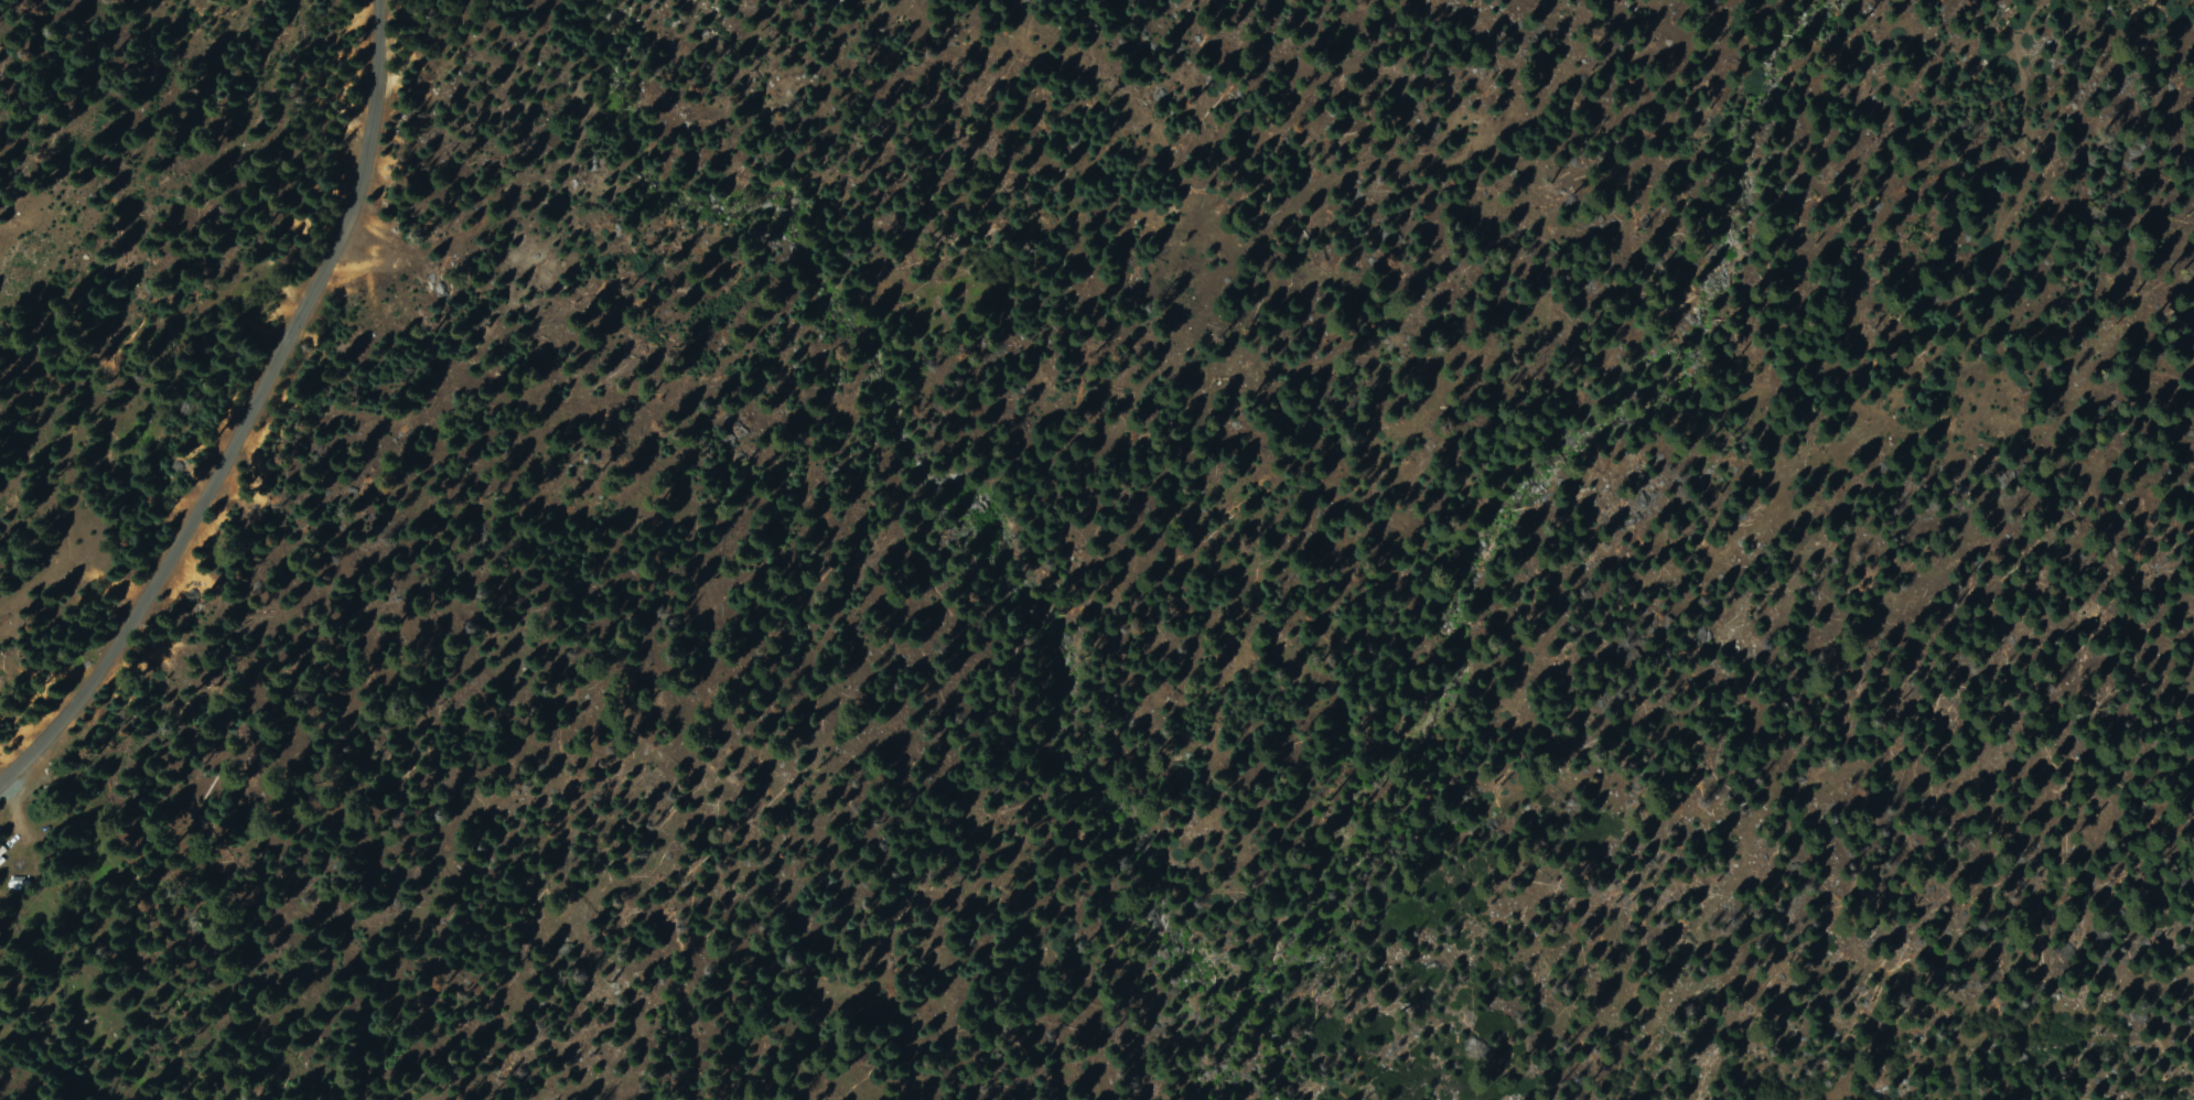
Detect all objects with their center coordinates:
road: (250, 421)

